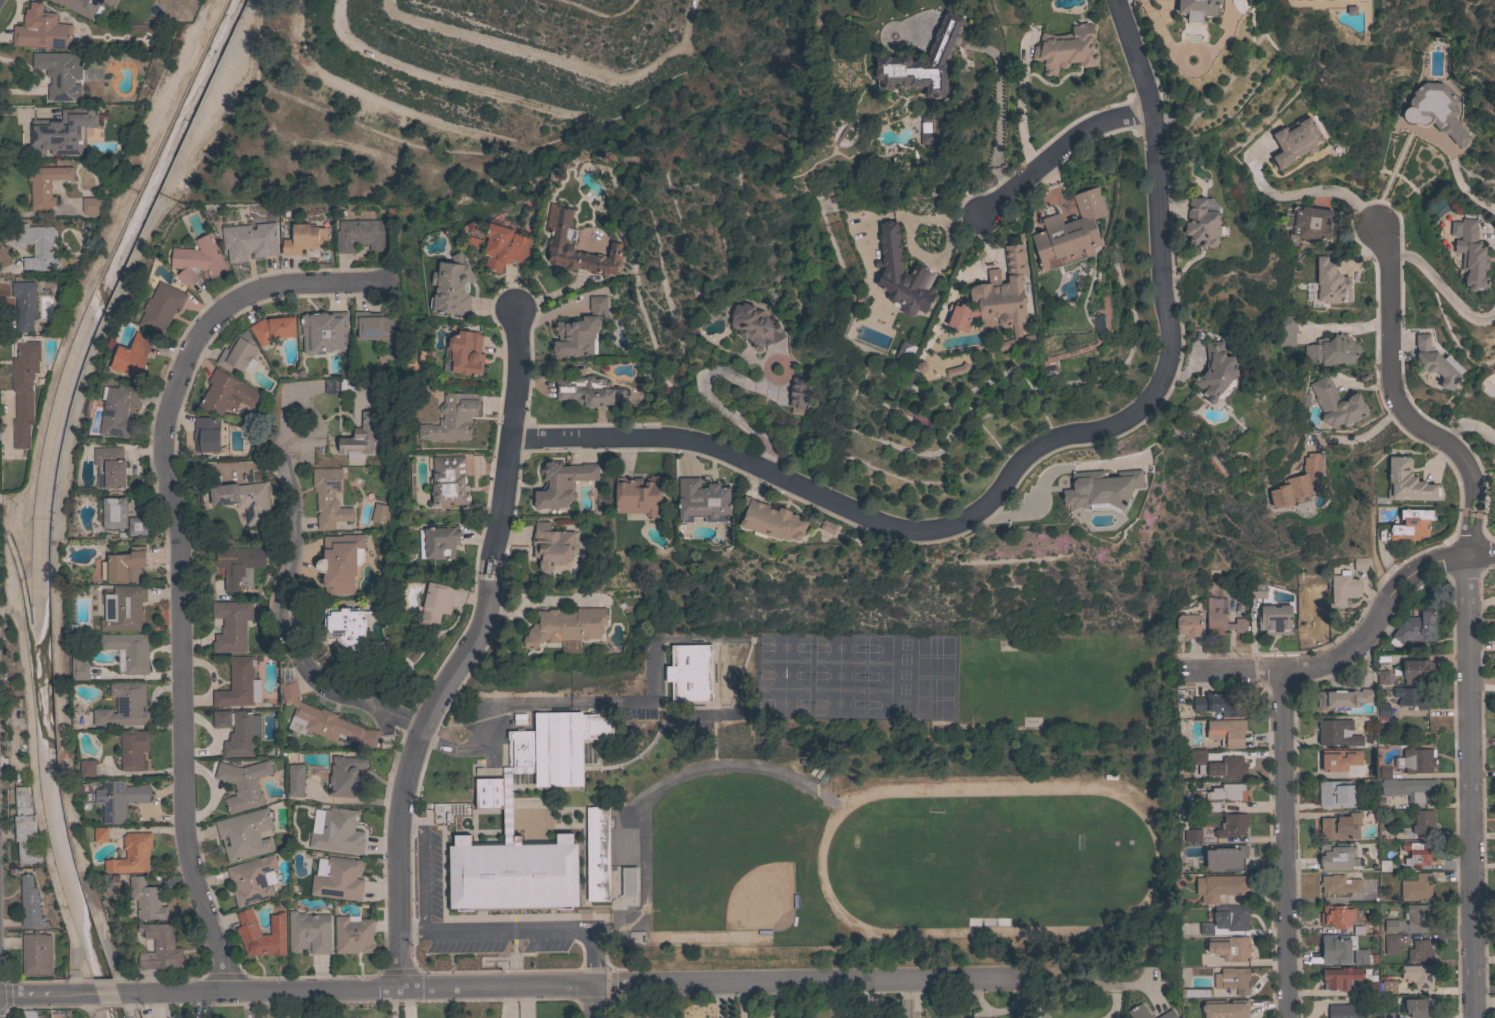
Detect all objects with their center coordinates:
building: (113, 0)
building: (1307, 0)
building: (87, 7)
building: (1198, 8)
road: (600, 14)
building: (41, 29)
building: (1065, 49)
road: (556, 58)
building: (922, 62)
building: (58, 74)
road: (444, 81)
road: (174, 93)
road: (371, 93)
road: (206, 97)
building: (1436, 110)
building: (56, 133)
building: (911, 133)
building: (1295, 141)
road: (1056, 148)
building: (45, 184)
road: (1302, 195)
road: (1470, 197)
building: (91, 205)
building: (1201, 224)
building: (1307, 224)
building: (1070, 232)
building: (361, 235)
building: (305, 238)
building: (559, 240)
building: (249, 241)
building: (474, 242)
building: (37, 246)
building: (505, 247)
building: (1470, 253)
building: (198, 260)
building: (901, 275)
building: (1330, 283)
building: (452, 286)
road: (1444, 288)
building: (1004, 298)
building: (24, 305)
building: (1104, 306)
building: (161, 307)
building: (755, 326)
building: (374, 327)
building: (273, 329)
building: (1285, 329)
building: (580, 330)
building: (324, 332)
building: (1332, 350)
road: (62, 351)
building: (237, 352)
building: (466, 352)
building: (384, 355)
building: (132, 356)
building: (1434, 362)
building: (1217, 373)
building: (339, 385)
building: (24, 391)
building: (588, 391)
building: (798, 391)
building: (226, 393)
road: (707, 397)
building: (1336, 403)
road: (1398, 407)
building: (118, 410)
building: (452, 418)
road: (1457, 424)
building: (206, 434)
building: (358, 438)
road: (1019, 462)
building: (110, 467)
building: (449, 481)
building: (1408, 482)
building: (561, 483)
building: (1101, 489)
building: (638, 495)
building: (329, 497)
building: (1275, 498)
building: (243, 499)
building: (703, 501)
building: (1493, 505)
building: (112, 512)
building: (379, 513)
building: (771, 520)
building: (1411, 524)
building: (137, 526)
building: (828, 526)
building: (439, 542)
building: (552, 546)
building: (340, 562)
building: (237, 563)
road: (1430, 564)
building: (124, 565)
road: (177, 565)
building: (1360, 567)
road: (54, 575)
building: (1343, 588)
building: (1258, 590)
building: (436, 603)
building: (1312, 607)
building: (123, 608)
building: (1221, 616)
road: (279, 619)
building: (1274, 619)
building: (1189, 624)
building: (231, 625)
building: (565, 626)
building: (346, 627)
building: (1414, 628)
building: (130, 650)
road: (462, 651)
building: (79, 667)
road: (1297, 669)
building: (1415, 670)
building: (1383, 677)
building: (239, 684)
park: (816, 684)
park: (924, 684)
building: (682, 685)
building: (1410, 697)
building: (1344, 698)
building: (1220, 704)
building: (124, 705)
building: (1383, 709)
building: (221, 719)
building: (324, 721)
building: (1226, 732)
building: (1337, 732)
building: (241, 734)
building: (133, 749)
building: (1199, 757)
building: (1339, 759)
building: (1416, 760)
building: (1230, 767)
building: (86, 768)
building: (1384, 772)
building: (346, 775)
building: (295, 780)
road: (35, 784)
building: (243, 784)
road: (1473, 787)
building: (1412, 789)
building: (1335, 793)
building: (1221, 795)
building: (117, 799)
building: (1423, 821)
building: (1231, 825)
building: (25, 826)
building: (1340, 826)
building: (1187, 829)
building: (338, 832)
building: (590, 833)
building: (101, 834)
building: (245, 834)
building: (627, 846)
road: (1282, 846)
building: (1417, 853)
building: (132, 854)
building: (1337, 856)
building: (1230, 857)
park: (718, 859)
road: (421, 868)
track: (981, 868)
parking lot: (428, 876)
building: (339, 879)
building: (252, 880)
building: (628, 881)
building: (1340, 883)
building: (1221, 887)
building: (1417, 887)
building: (1367, 898)
building: (146, 899)
building: (29, 903)
building: (1417, 914)
building: (1337, 915)
building: (1231, 917)
building: (1390, 925)
building: (1206, 928)
building: (247, 931)
building: (309, 931)
road: (518, 932)
building: (353, 934)
building: (1391, 944)
building: (160, 947)
building: (1230, 948)
building: (1210, 950)
building: (1343, 950)
building: (1420, 951)
building: (36, 953)
building: (1418, 976)
building: (1339, 977)
road: (78, 980)
building: (1232, 980)
road: (547, 984)
building: (1387, 987)
building: (1197, 992)
road: (903, 998)
road: (914, 998)
road: (795, 999)
road: (593, 1001)
road: (87, 1004)
building: (1418, 1007)
building: (1225, 1008)
building: (1345, 1011)
building: (1138, 1012)
building: (29, 1014)
building: (1388, 1014)
building: (1165, 1015)
road: (130, 1016)
building: (44, 1017)
road: (92, 1017)
building: (228, 1017)
building: (660, 1017)

